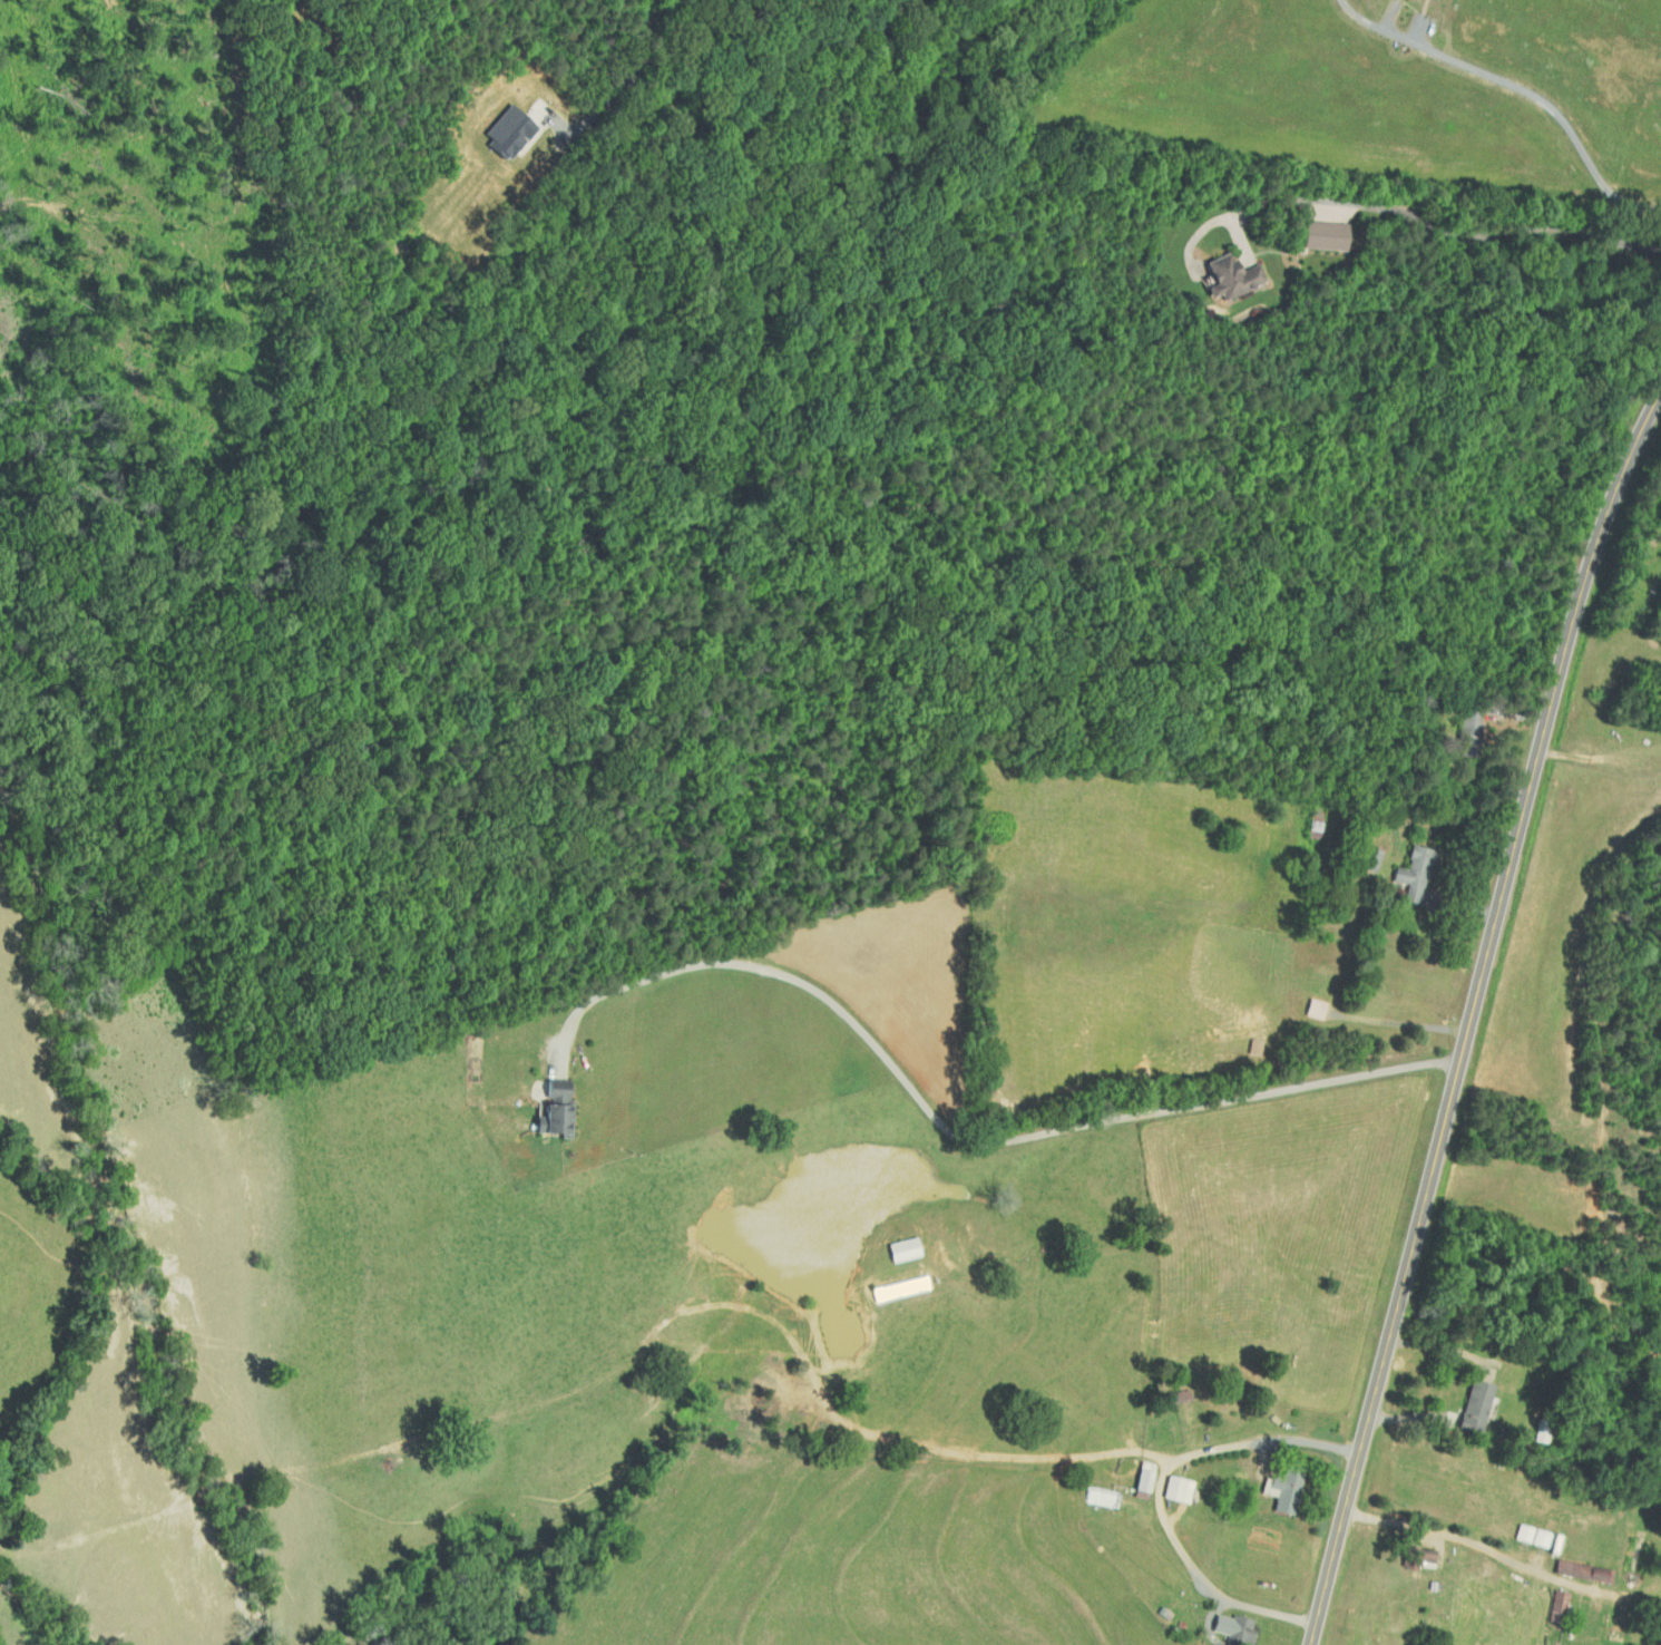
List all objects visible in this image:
road: (645, 21)
road: (714, 47)
road: (1520, 86)
road: (609, 99)
road: (1406, 215)
building: (1318, 234)
building: (1233, 274)
road: (1521, 716)
building: (1473, 722)
road: (1601, 756)
building: (1369, 858)
building: (1409, 872)
road: (1465, 906)
road: (814, 985)
road: (1472, 1015)
road: (1403, 1022)
road: (568, 1023)
road: (1214, 1102)
building: (560, 1109)
road: (921, 1205)
building: (899, 1249)
building: (897, 1287)
road: (1443, 1346)
building: (1472, 1403)
road: (1270, 1440)
building: (1140, 1478)
building: (1282, 1487)
building: (1174, 1489)
road: (1442, 1532)
building: (1418, 1555)
road: (1199, 1570)
building: (1581, 1570)
building: (1555, 1605)
building: (1230, 1628)

